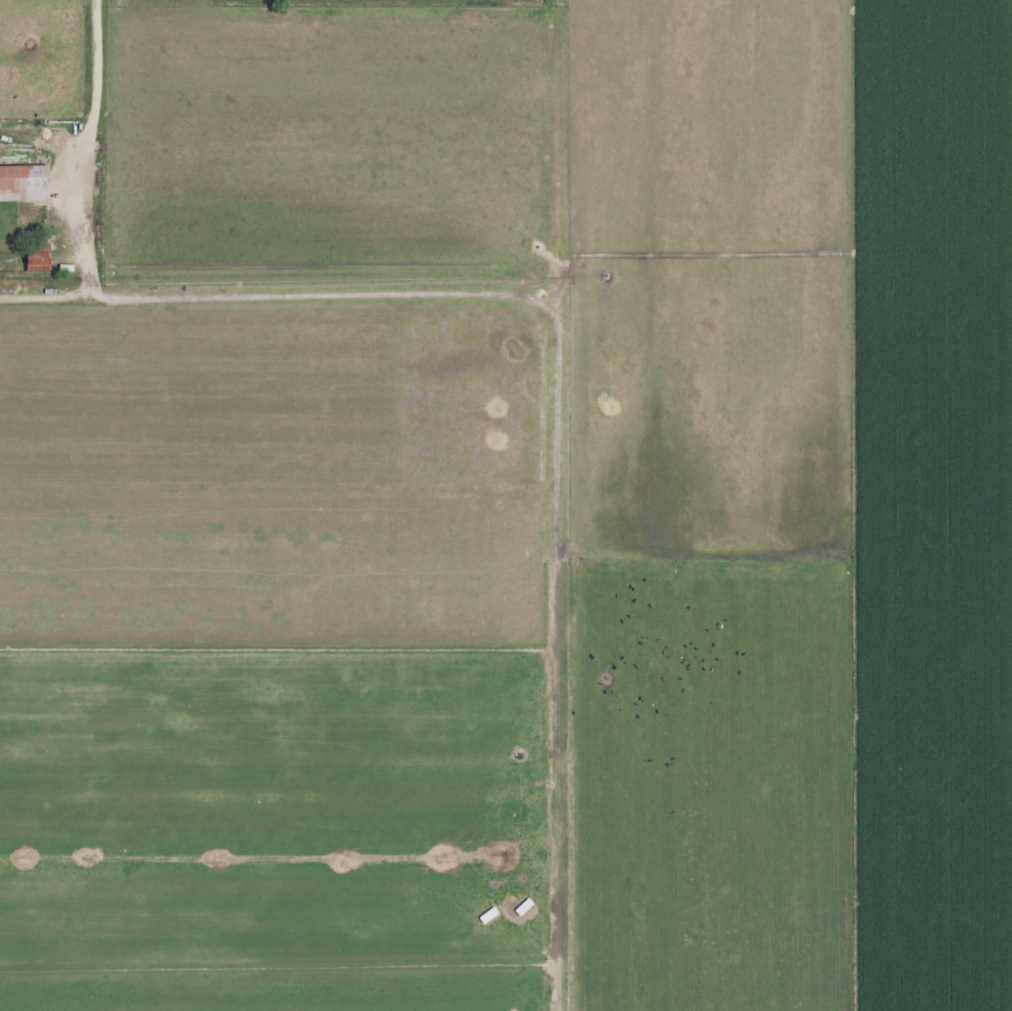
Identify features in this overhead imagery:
road: (99, 56)
building: (23, 182)
building: (41, 257)

